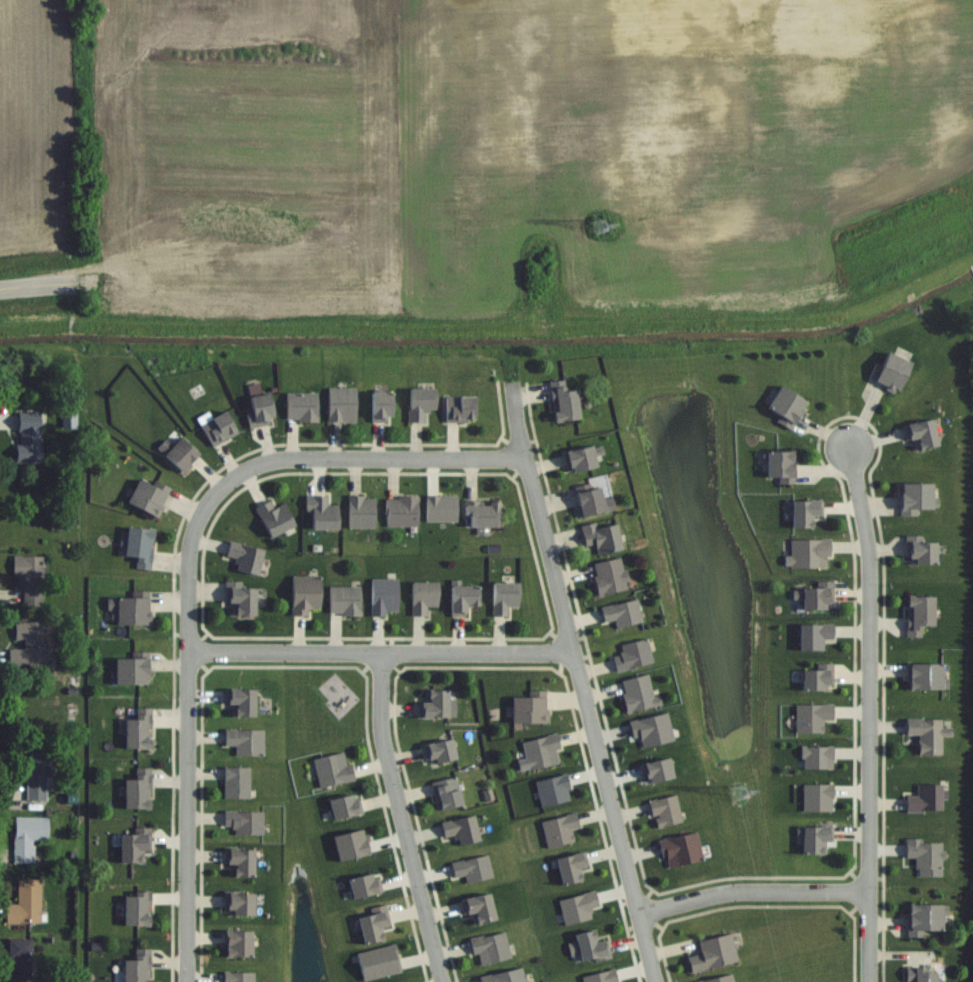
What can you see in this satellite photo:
power tower: (609, 225)
road: (38, 294)
building: (889, 371)
building: (562, 401)
building: (419, 403)
building: (340, 404)
building: (300, 406)
building: (379, 406)
building: (783, 407)
building: (458, 408)
building: (259, 410)
building: (217, 429)
building: (920, 434)
building: (31, 437)
building: (184, 454)
road: (388, 457)
building: (580, 458)
building: (779, 467)
building: (149, 497)
building: (914, 498)
building: (592, 503)
building: (360, 511)
building: (401, 511)
building: (803, 513)
building: (320, 514)
building: (481, 514)
building: (272, 518)
building: (600, 536)
building: (142, 547)
building: (919, 551)
building: (243, 558)
building: (609, 577)
building: (30, 578)
building: (304, 595)
building: (383, 597)
building: (503, 597)
building: (816, 597)
building: (461, 599)
building: (239, 600)
building: (344, 601)
building: (133, 610)
building: (620, 613)
building: (917, 615)
building: (812, 637)
building: (33, 644)
road: (381, 650)
building: (632, 656)
building: (134, 670)
building: (815, 678)
building: (925, 678)
road: (580, 683)
building: (637, 693)
building: (240, 702)
building: (437, 705)
road: (189, 707)
building: (527, 710)
road: (865, 716)
building: (140, 729)
building: (927, 735)
building: (244, 742)
building: (438, 752)
building: (540, 752)
building: (331, 770)
building: (36, 774)
building: (235, 783)
building: (141, 789)
building: (446, 794)
building: (924, 800)
building: (343, 807)
building: (664, 811)
road: (402, 817)
building: (243, 822)
building: (29, 836)
building: (814, 840)
building: (137, 844)
building: (680, 849)
building: (925, 856)
building: (239, 862)
building: (569, 867)
building: (471, 869)
road: (752, 890)
building: (25, 908)
building: (138, 908)
building: (927, 919)
building: (372, 924)
building: (236, 944)
building: (589, 947)
building: (489, 948)
building: (712, 953)
building: (22, 960)
building: (140, 966)
building: (918, 975)
building: (504, 976)
building: (529, 981)

